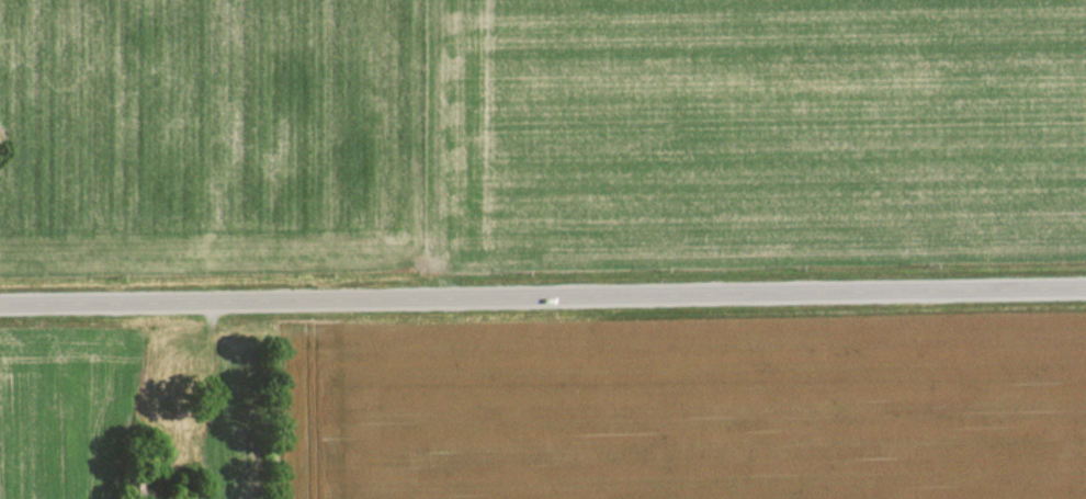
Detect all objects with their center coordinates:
crop: (751, 131)
crop: (210, 135)
road: (543, 297)
crop: (695, 415)
crop: (64, 417)

